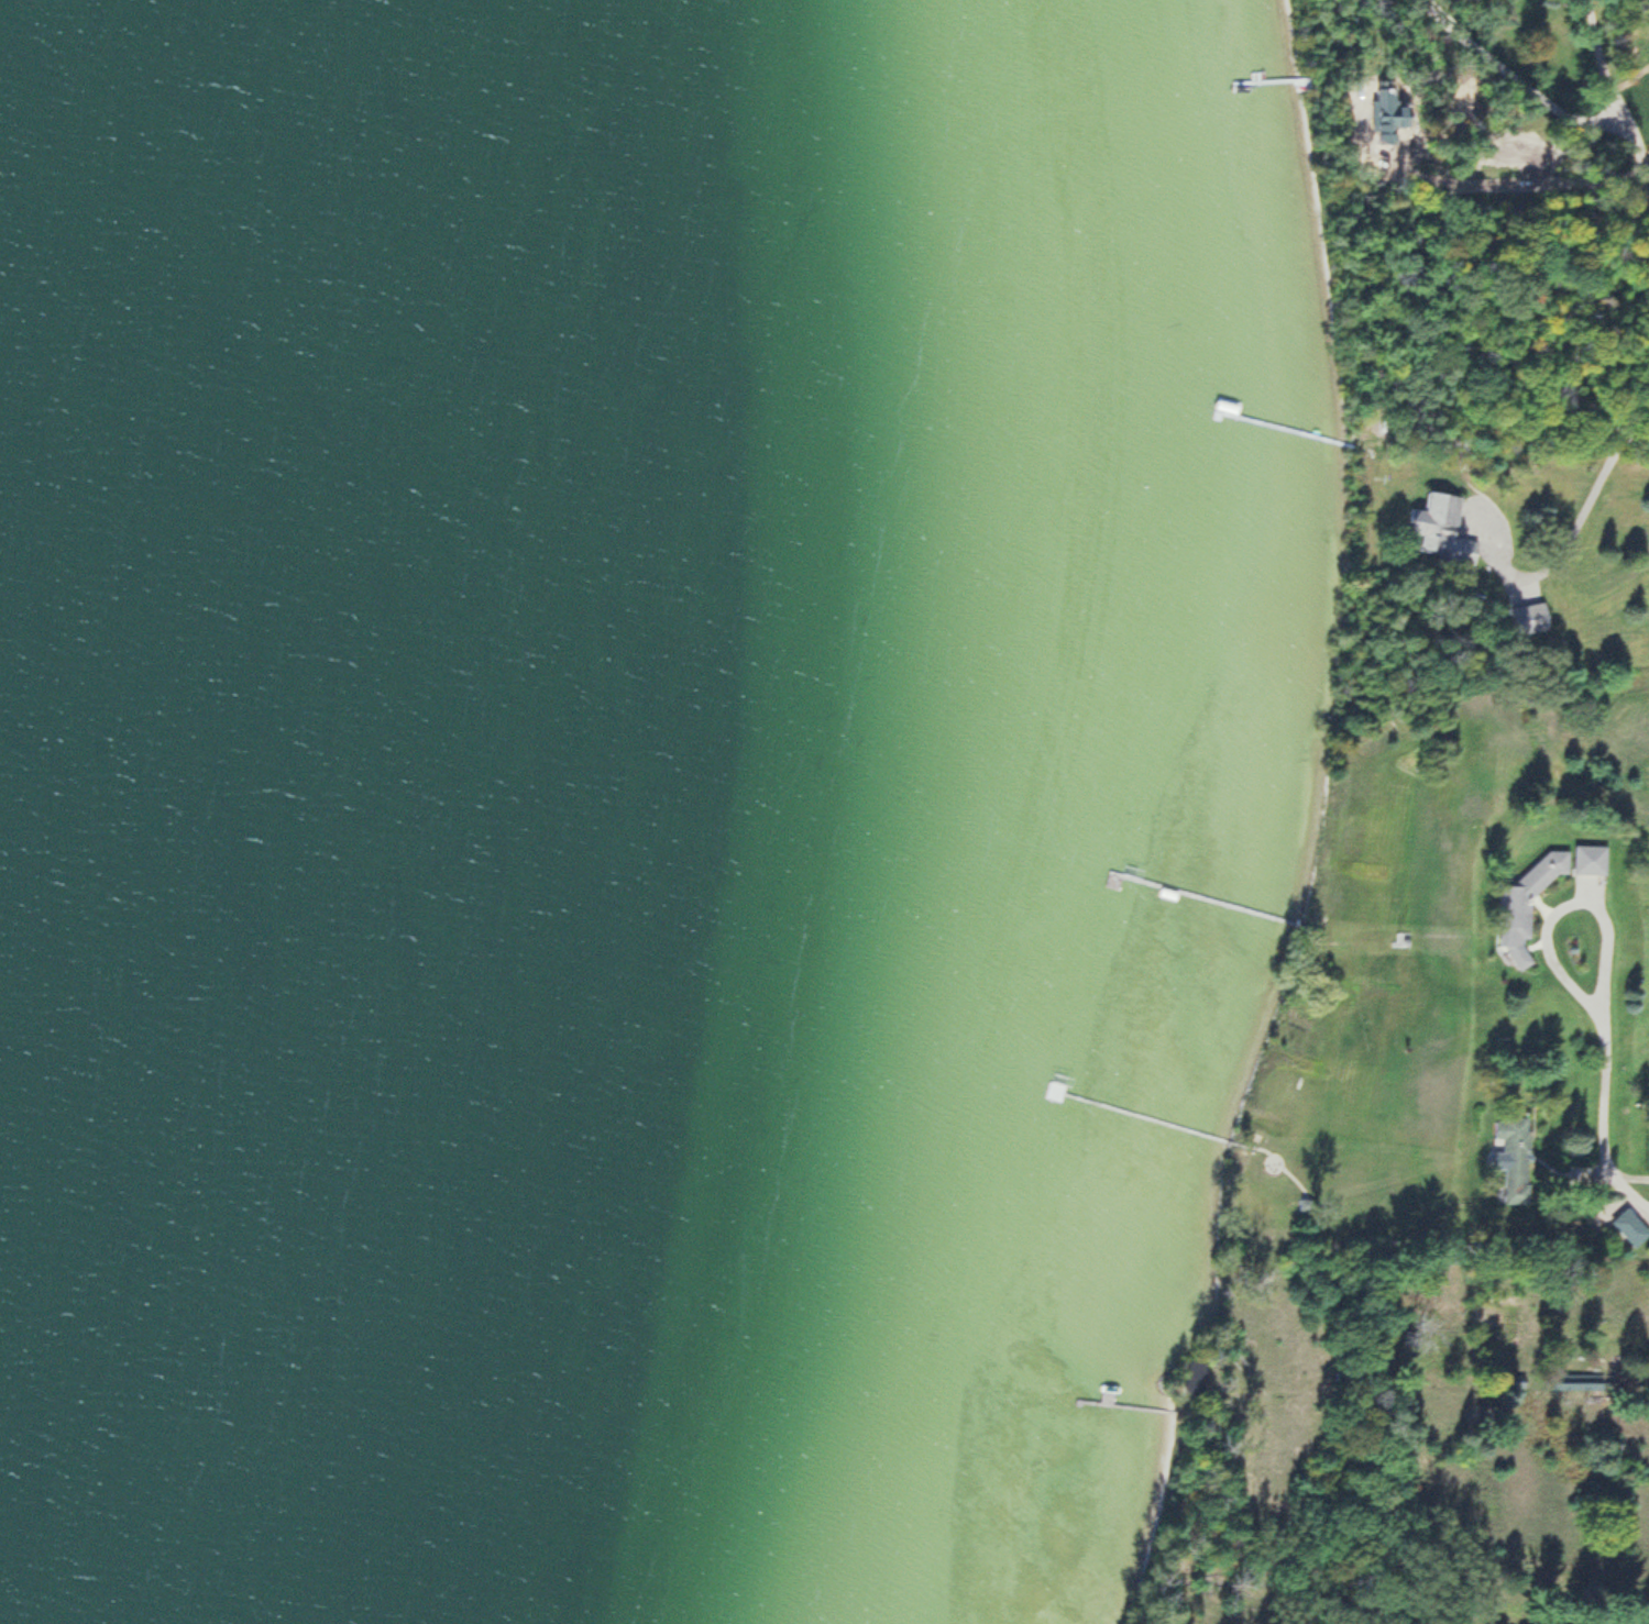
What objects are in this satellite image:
road: (1598, 68)
road: (1513, 78)
building: (1631, 114)
road: (1619, 153)
road: (1637, 170)
building: (1443, 526)
road: (1563, 539)
building: (1529, 618)
building: (1588, 860)
building: (1525, 904)
building: (572, 913)
road: (1603, 950)
building: (1514, 1158)
road: (1585, 1171)
road: (1626, 1191)
building: (1631, 1233)
road: (1642, 1263)
building: (1581, 1382)
building: (262, 1621)

